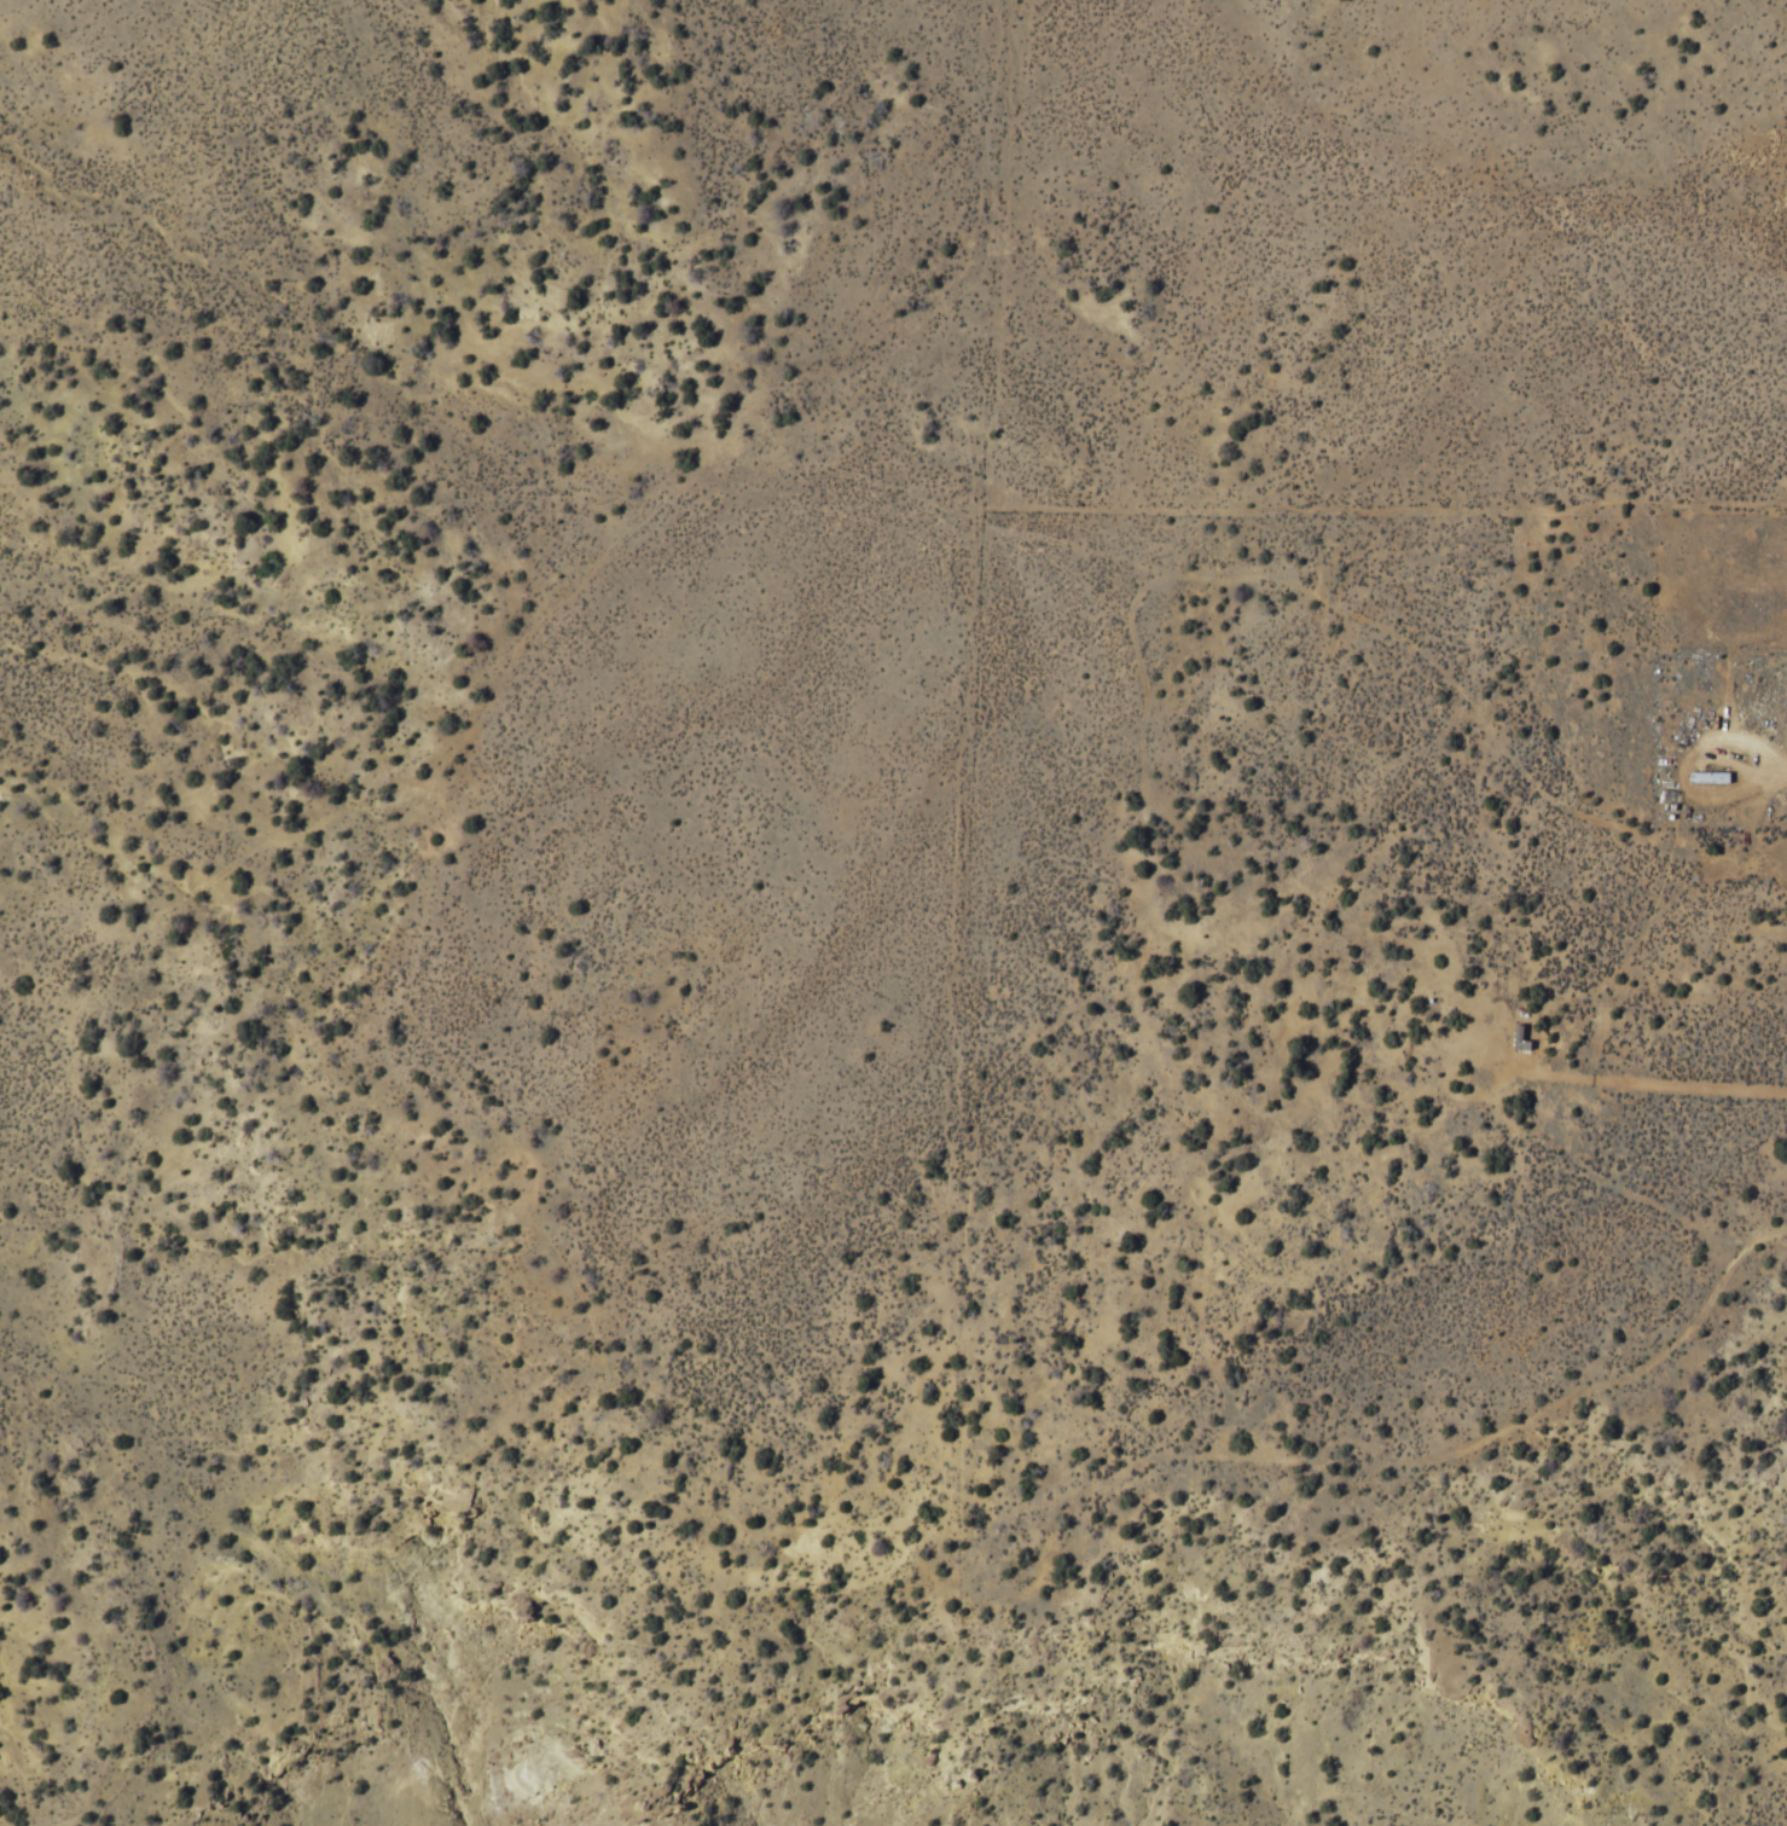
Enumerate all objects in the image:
building: (1711, 776)

